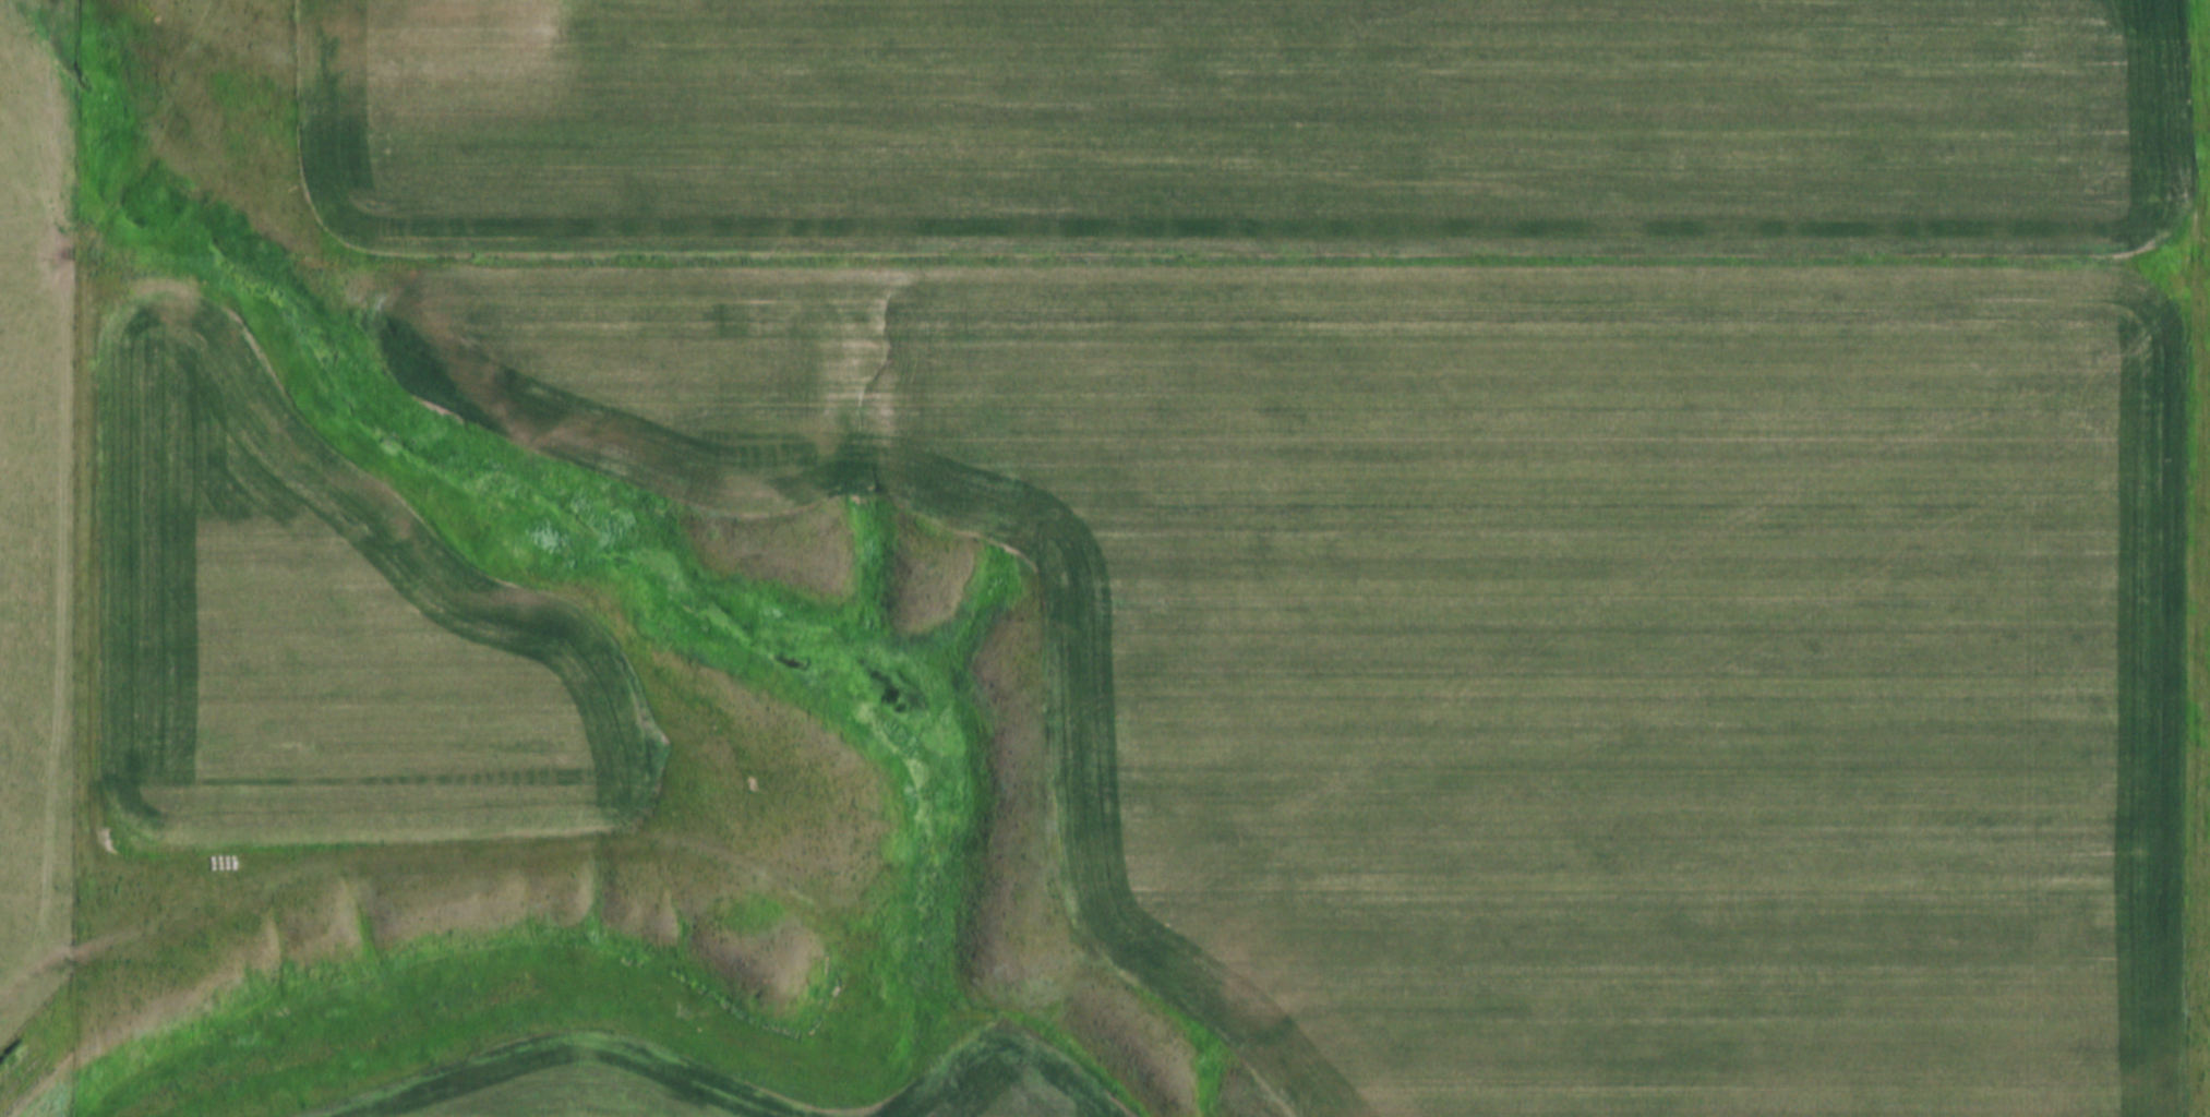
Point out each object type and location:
road: (312, 870)

